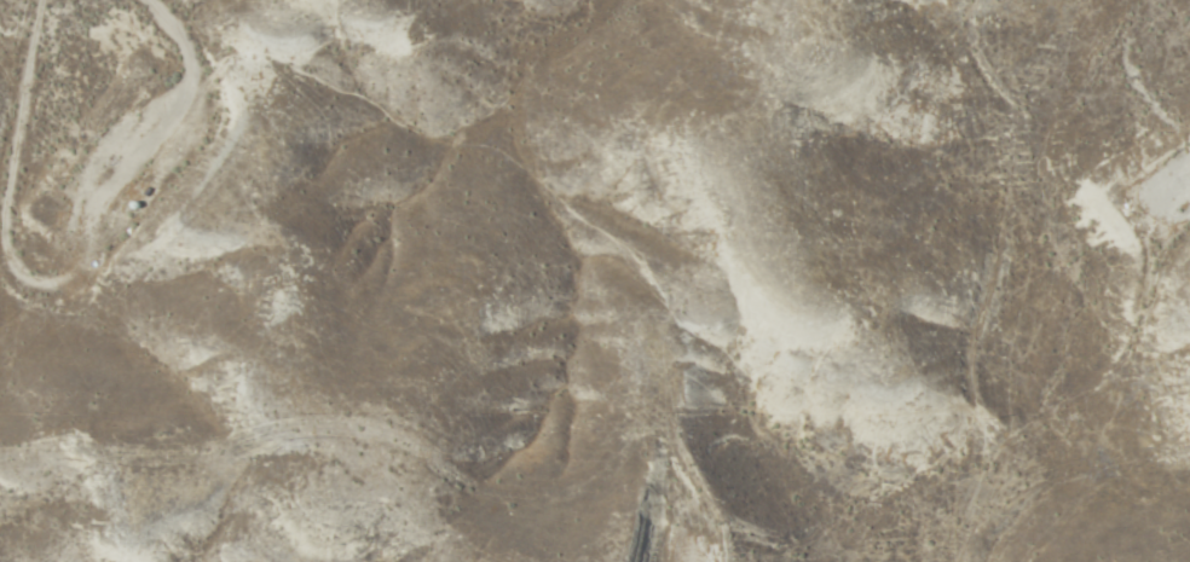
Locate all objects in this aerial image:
road: (1086, 409)

